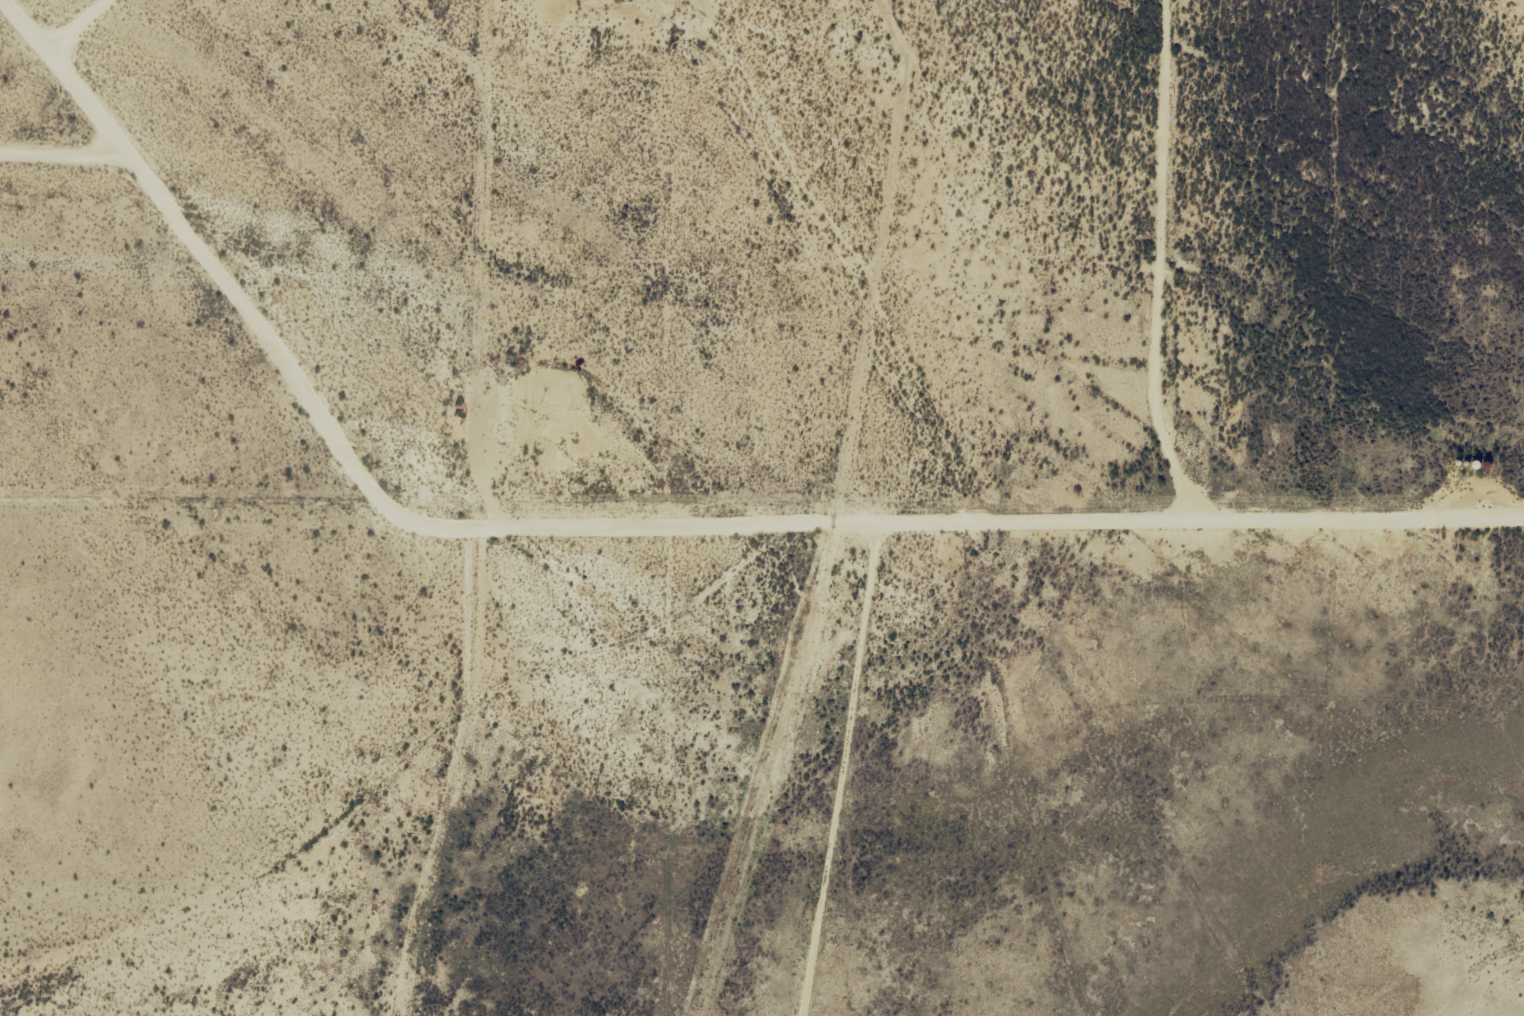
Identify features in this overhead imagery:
power tower: (675, 61)
road: (43, 164)
road: (1133, 273)
power tower: (674, 412)
road: (635, 547)
power tower: (672, 788)

